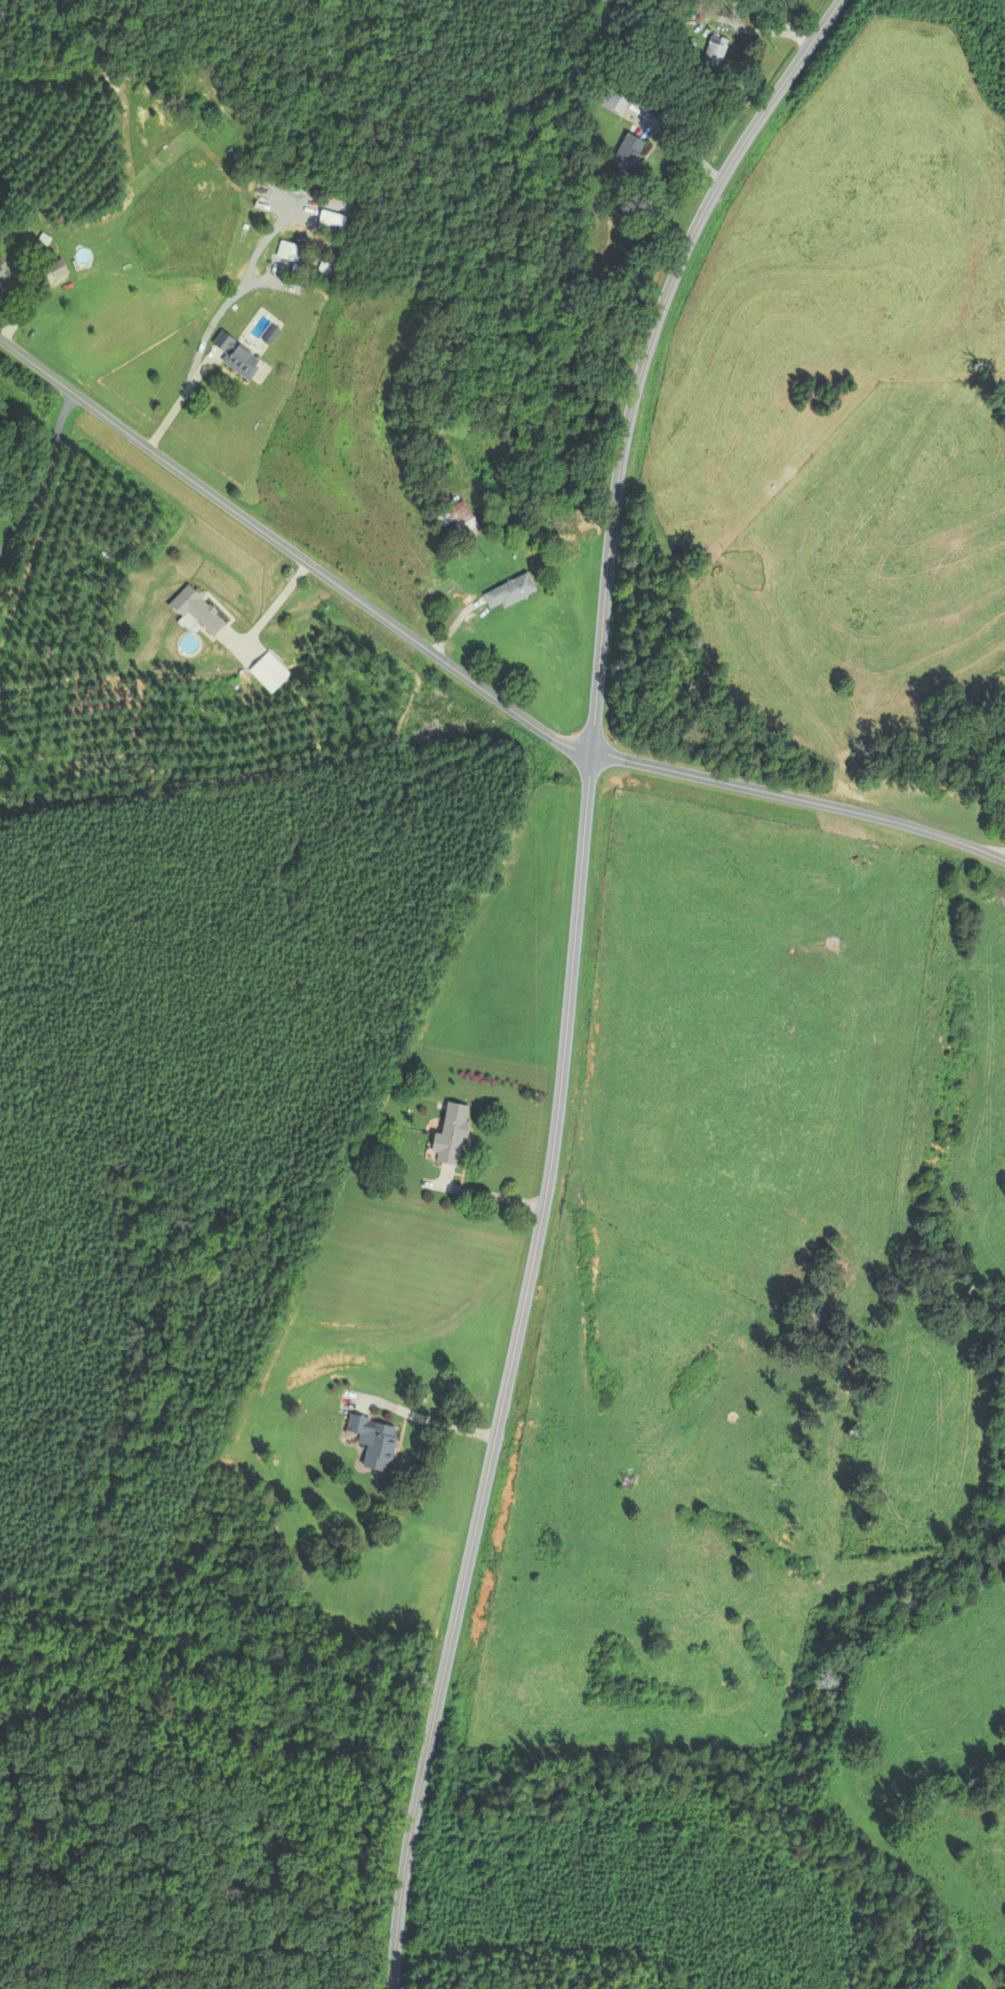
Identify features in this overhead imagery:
road: (785, 21)
road: (754, 30)
building: (715, 52)
building: (616, 99)
road: (687, 145)
building: (627, 154)
building: (37, 245)
building: (288, 251)
building: (4, 278)
road: (215, 317)
building: (236, 357)
road: (178, 402)
road: (43, 475)
building: (459, 518)
road: (291, 551)
building: (509, 592)
building: (194, 610)
road: (799, 798)
road: (570, 974)
building: (448, 1135)
road: (434, 1421)
building: (379, 1441)
building: (672, 1585)
building: (697, 1667)

